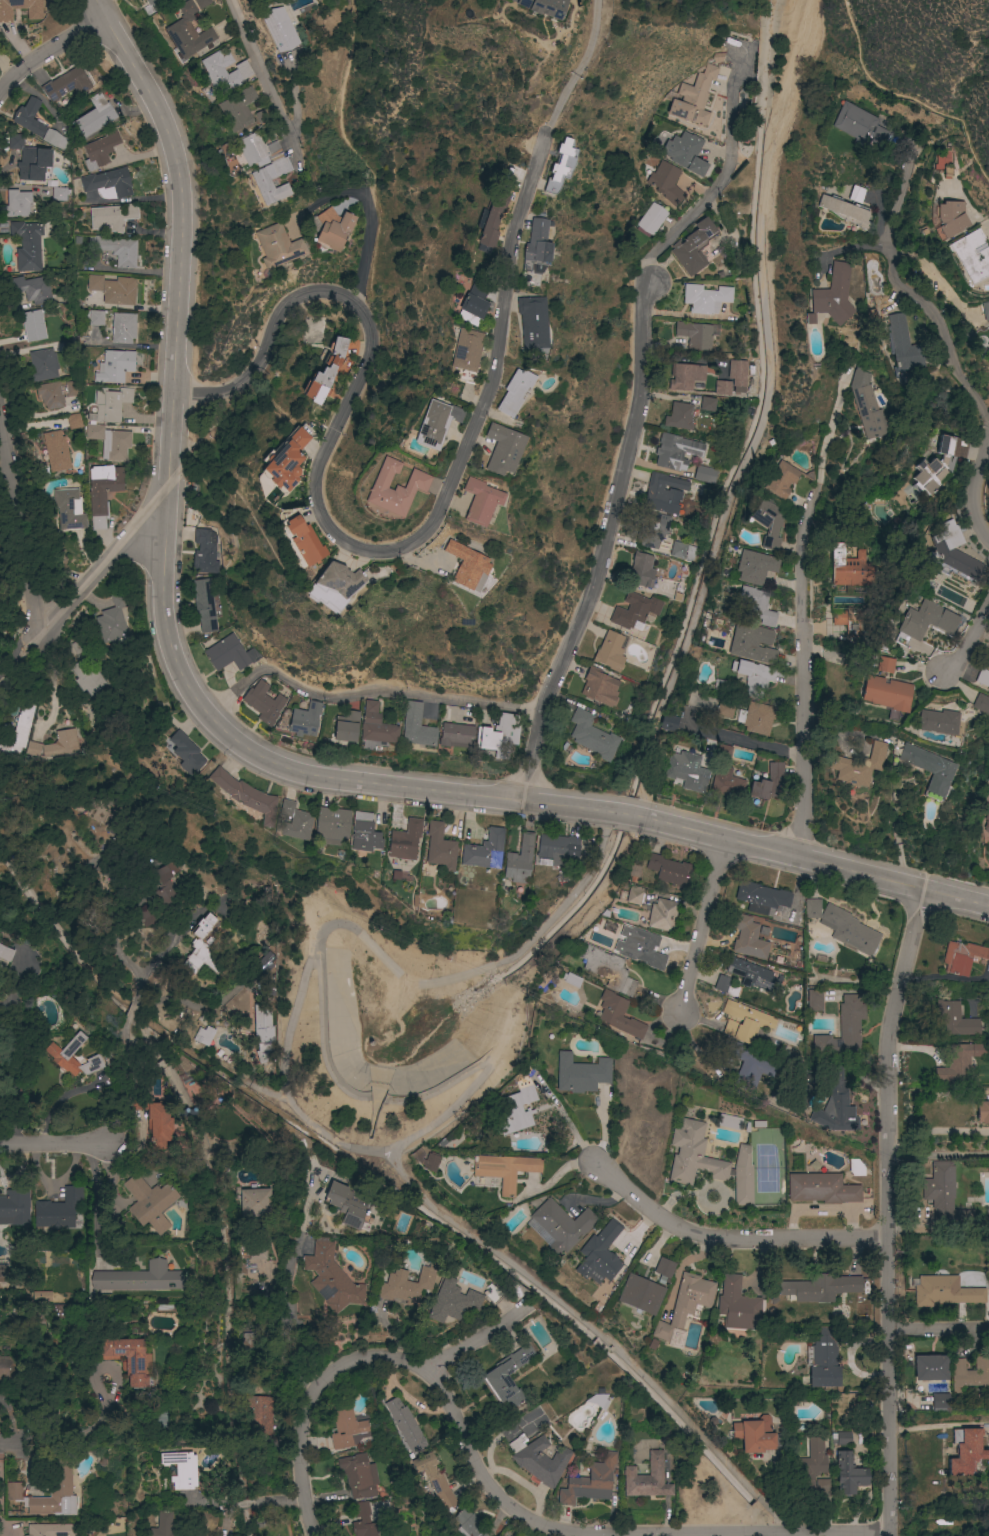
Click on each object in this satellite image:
building: (154, 2)
building: (202, 3)
building: (543, 7)
building: (35, 14)
building: (279, 29)
building: (187, 33)
road: (48, 52)
road: (581, 66)
building: (241, 73)
road: (264, 79)
building: (66, 84)
road: (906, 96)
road: (781, 97)
building: (694, 98)
building: (238, 109)
building: (263, 115)
building: (29, 117)
building: (94, 117)
building: (859, 125)
building: (55, 140)
building: (99, 150)
building: (685, 153)
road: (353, 157)
building: (27, 159)
building: (943, 163)
building: (264, 166)
building: (560, 166)
building: (109, 182)
building: (666, 182)
road: (715, 184)
building: (59, 194)
building: (857, 194)
road: (899, 196)
building: (17, 204)
building: (845, 210)
building: (113, 217)
building: (951, 218)
building: (492, 219)
building: (652, 219)
building: (333, 229)
road: (366, 238)
building: (537, 243)
building: (27, 245)
building: (277, 246)
building: (693, 247)
building: (115, 250)
building: (971, 255)
building: (95, 283)
building: (32, 289)
building: (119, 291)
building: (833, 295)
building: (705, 298)
building: (473, 303)
building: (985, 310)
building: (96, 318)
building: (532, 322)
building: (33, 325)
building: (123, 328)
road: (942, 329)
building: (695, 335)
building: (901, 344)
building: (987, 344)
building: (466, 350)
building: (43, 365)
building: (115, 366)
building: (325, 372)
building: (737, 375)
building: (686, 376)
building: (722, 388)
building: (71, 389)
building: (514, 392)
building: (50, 395)
building: (111, 403)
building: (707, 404)
building: (866, 404)
building: (679, 416)
building: (73, 421)
building: (436, 424)
road: (827, 431)
building: (110, 441)
building: (503, 449)
building: (56, 451)
building: (676, 452)
building: (285, 462)
building: (933, 468)
building: (705, 475)
building: (781, 480)
building: (395, 488)
building: (103, 492)
building: (664, 493)
road: (975, 495)
building: (480, 501)
building: (69, 509)
building: (769, 523)
building: (652, 529)
building: (305, 542)
road: (346, 545)
road: (606, 545)
building: (682, 551)
building: (205, 553)
building: (952, 554)
building: (467, 566)
building: (756, 567)
building: (850, 568)
building: (642, 571)
building: (338, 580)
building: (758, 605)
building: (206, 606)
building: (634, 610)
building: (848, 619)
building: (113, 621)
building: (924, 622)
road: (32, 624)
road: (970, 636)
building: (752, 643)
building: (76, 647)
building: (611, 652)
building: (230, 654)
building: (987, 663)
building: (885, 665)
road: (804, 671)
building: (87, 676)
building: (754, 677)
building: (982, 678)
building: (598, 686)
road: (366, 692)
building: (887, 693)
building: (265, 702)
building: (981, 704)
building: (726, 708)
building: (759, 718)
building: (305, 720)
building: (938, 722)
building: (667, 724)
building: (346, 726)
building: (376, 726)
building: (417, 727)
building: (16, 734)
building: (499, 735)
building: (456, 736)
building: (592, 736)
road: (232, 738)
road: (750, 741)
building: (54, 746)
building: (185, 753)
building: (724, 753)
building: (858, 766)
building: (929, 768)
building: (687, 771)
building: (724, 782)
building: (768, 785)
building: (245, 795)
building: (295, 821)
building: (986, 823)
building: (332, 824)
building: (364, 834)
building: (405, 841)
building: (440, 847)
building: (557, 849)
building: (485, 851)
building: (519, 861)
building: (669, 870)
building: (634, 872)
building: (165, 885)
building: (634, 895)
building: (761, 898)
building: (812, 908)
building: (663, 915)
building: (144, 918)
building: (208, 923)
road: (704, 926)
building: (849, 930)
building: (747, 937)
road: (171, 945)
building: (642, 949)
building: (200, 952)
building: (5, 954)
building: (961, 957)
building: (607, 969)
building: (750, 974)
building: (267, 976)
building: (572, 980)
building: (723, 984)
building: (815, 1000)
road: (133, 1014)
building: (619, 1015)
building: (955, 1020)
building: (744, 1021)
building: (844, 1032)
building: (263, 1033)
building: (203, 1034)
building: (59, 1055)
building: (960, 1062)
building: (748, 1066)
building: (582, 1074)
road: (148, 1091)
building: (835, 1104)
building: (516, 1106)
building: (982, 1112)
building: (154, 1120)
building: (729, 1122)
road: (935, 1130)
road: (53, 1143)
road: (938, 1155)
building: (430, 1162)
building: (709, 1162)
building: (856, 1167)
building: (505, 1170)
building: (821, 1189)
building: (944, 1198)
road: (103, 1202)
building: (150, 1202)
building: (255, 1203)
building: (348, 1205)
building: (15, 1206)
building: (58, 1209)
road: (888, 1210)
building: (562, 1225)
road: (730, 1239)
building: (258, 1251)
building: (600, 1255)
building: (665, 1268)
building: (4, 1274)
building: (139, 1278)
building: (331, 1279)
building: (408, 1285)
building: (819, 1288)
building: (945, 1292)
building: (641, 1295)
building: (41, 1297)
building: (452, 1301)
building: (685, 1304)
building: (738, 1306)
building: (166, 1308)
building: (58, 1310)
road: (291, 1310)
road: (939, 1328)
building: (38, 1331)
building: (247, 1340)
road: (475, 1343)
building: (129, 1360)
building: (824, 1360)
building: (930, 1368)
building: (8, 1371)
building: (969, 1374)
building: (495, 1377)
building: (940, 1402)
building: (258, 1416)
building: (160, 1418)
building: (404, 1425)
road: (937, 1425)
building: (348, 1429)
building: (754, 1435)
building: (844, 1439)
road: (5, 1442)
building: (966, 1451)
building: (538, 1459)
building: (809, 1467)
building: (181, 1469)
building: (848, 1474)
building: (359, 1475)
building: (647, 1479)
building: (433, 1480)
building: (590, 1482)
building: (823, 1488)
road: (492, 1489)
building: (49, 1494)
road: (281, 1497)
road: (246, 1501)
road: (219, 1504)
building: (363, 1521)
building: (468, 1524)
building: (162, 1525)
building: (48, 1530)
building: (518, 1535)

